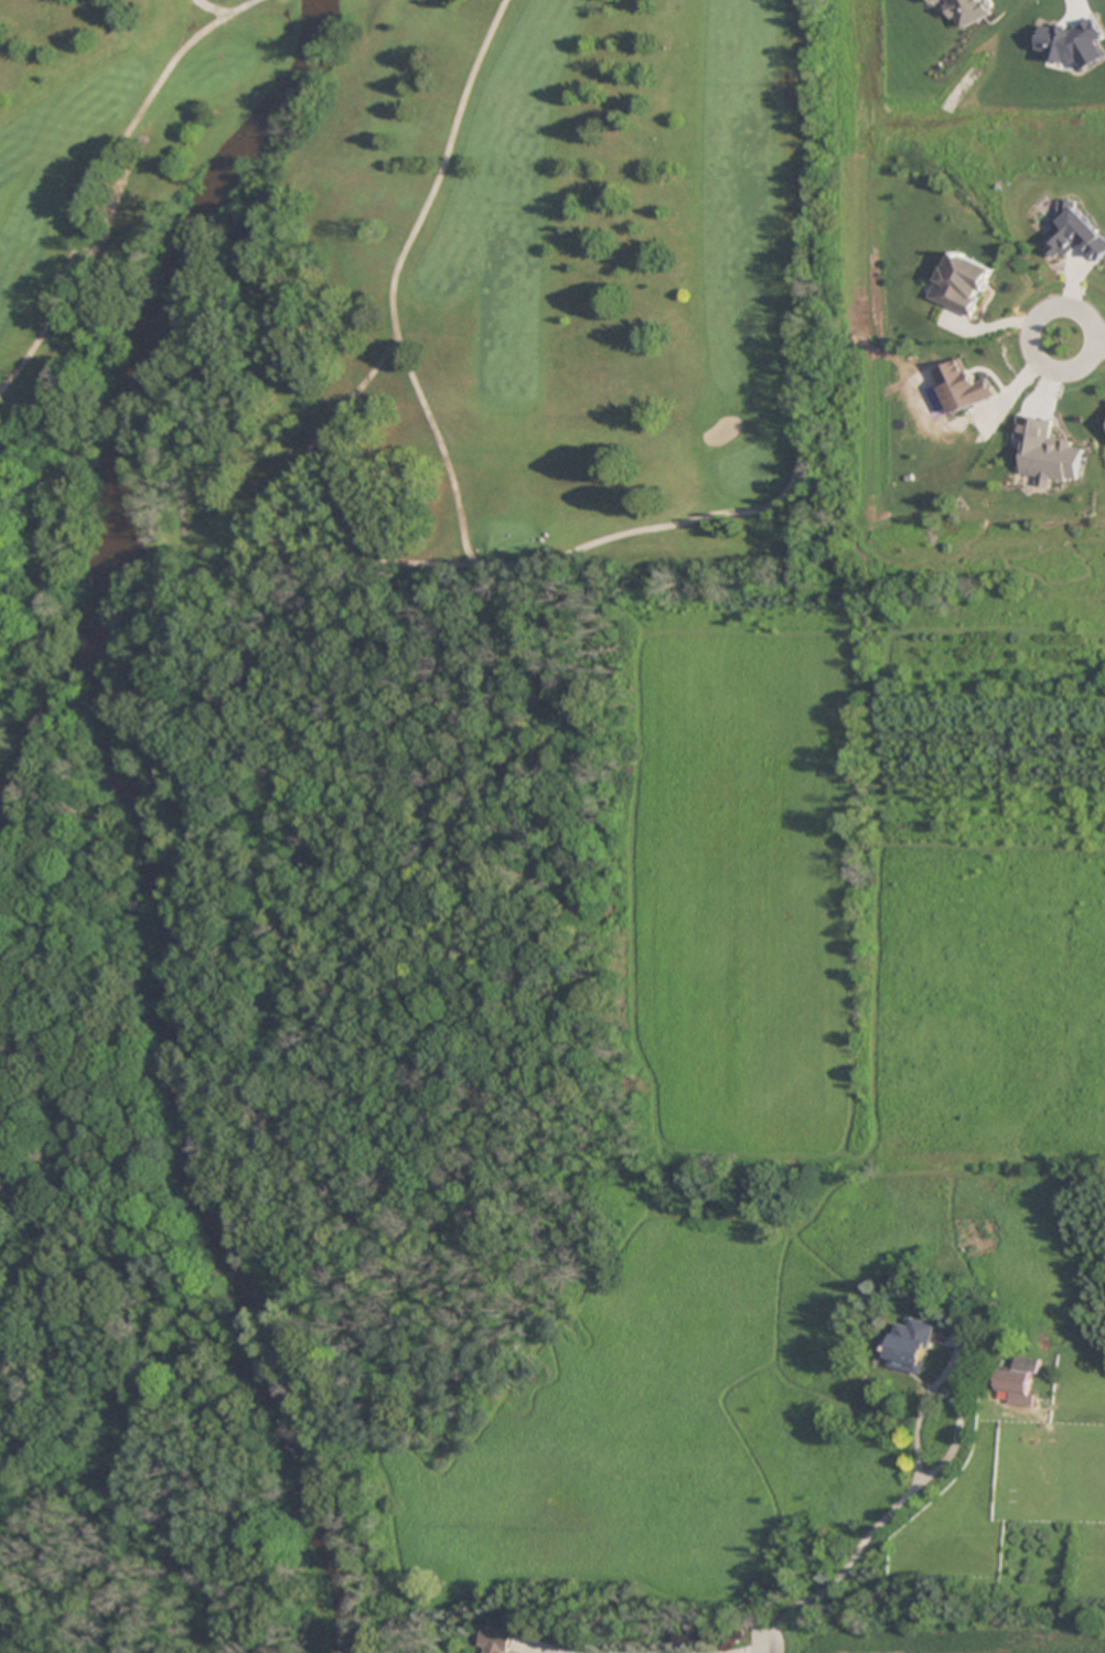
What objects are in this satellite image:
road: (207, 9)
road: (104, 176)
building: (1073, 234)
road: (389, 279)
building: (961, 283)
road: (1066, 305)
park: (422, 308)
road: (1098, 346)
building: (962, 386)
road: (633, 530)
river: (144, 816)
building: (910, 1346)
building: (6, 1352)
building: (1018, 1381)
crop: (924, 1634)
building: (497, 1639)
road: (761, 1643)

